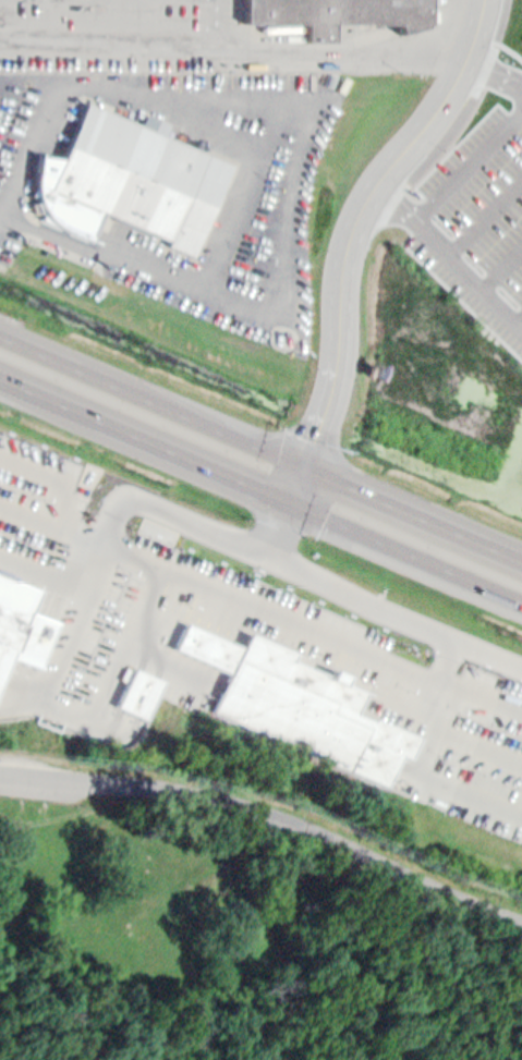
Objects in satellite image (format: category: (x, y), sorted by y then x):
building: (336, 14)
road: (222, 26)
parking lot: (117, 32)
road: (512, 33)
road: (111, 51)
road: (342, 53)
road: (494, 77)
road: (459, 113)
building: (132, 182)
parking lot: (477, 228)
road: (350, 235)
road: (63, 364)
road: (29, 390)
street lamp: (281, 423)
road: (216, 429)
street lamp: (349, 450)
road: (174, 452)
traffic signals: (305, 467)
traffic signals: (291, 501)
road: (413, 513)
street lamp: (252, 517)
road: (280, 524)
road: (239, 535)
street lamp: (312, 538)
road: (406, 550)
building: (22, 629)
building: (137, 694)
road: (479, 697)
building: (293, 702)
parking lot: (51, 771)
parking lot: (47, 792)
road: (270, 814)
park: (241, 915)
road: (247, 975)

